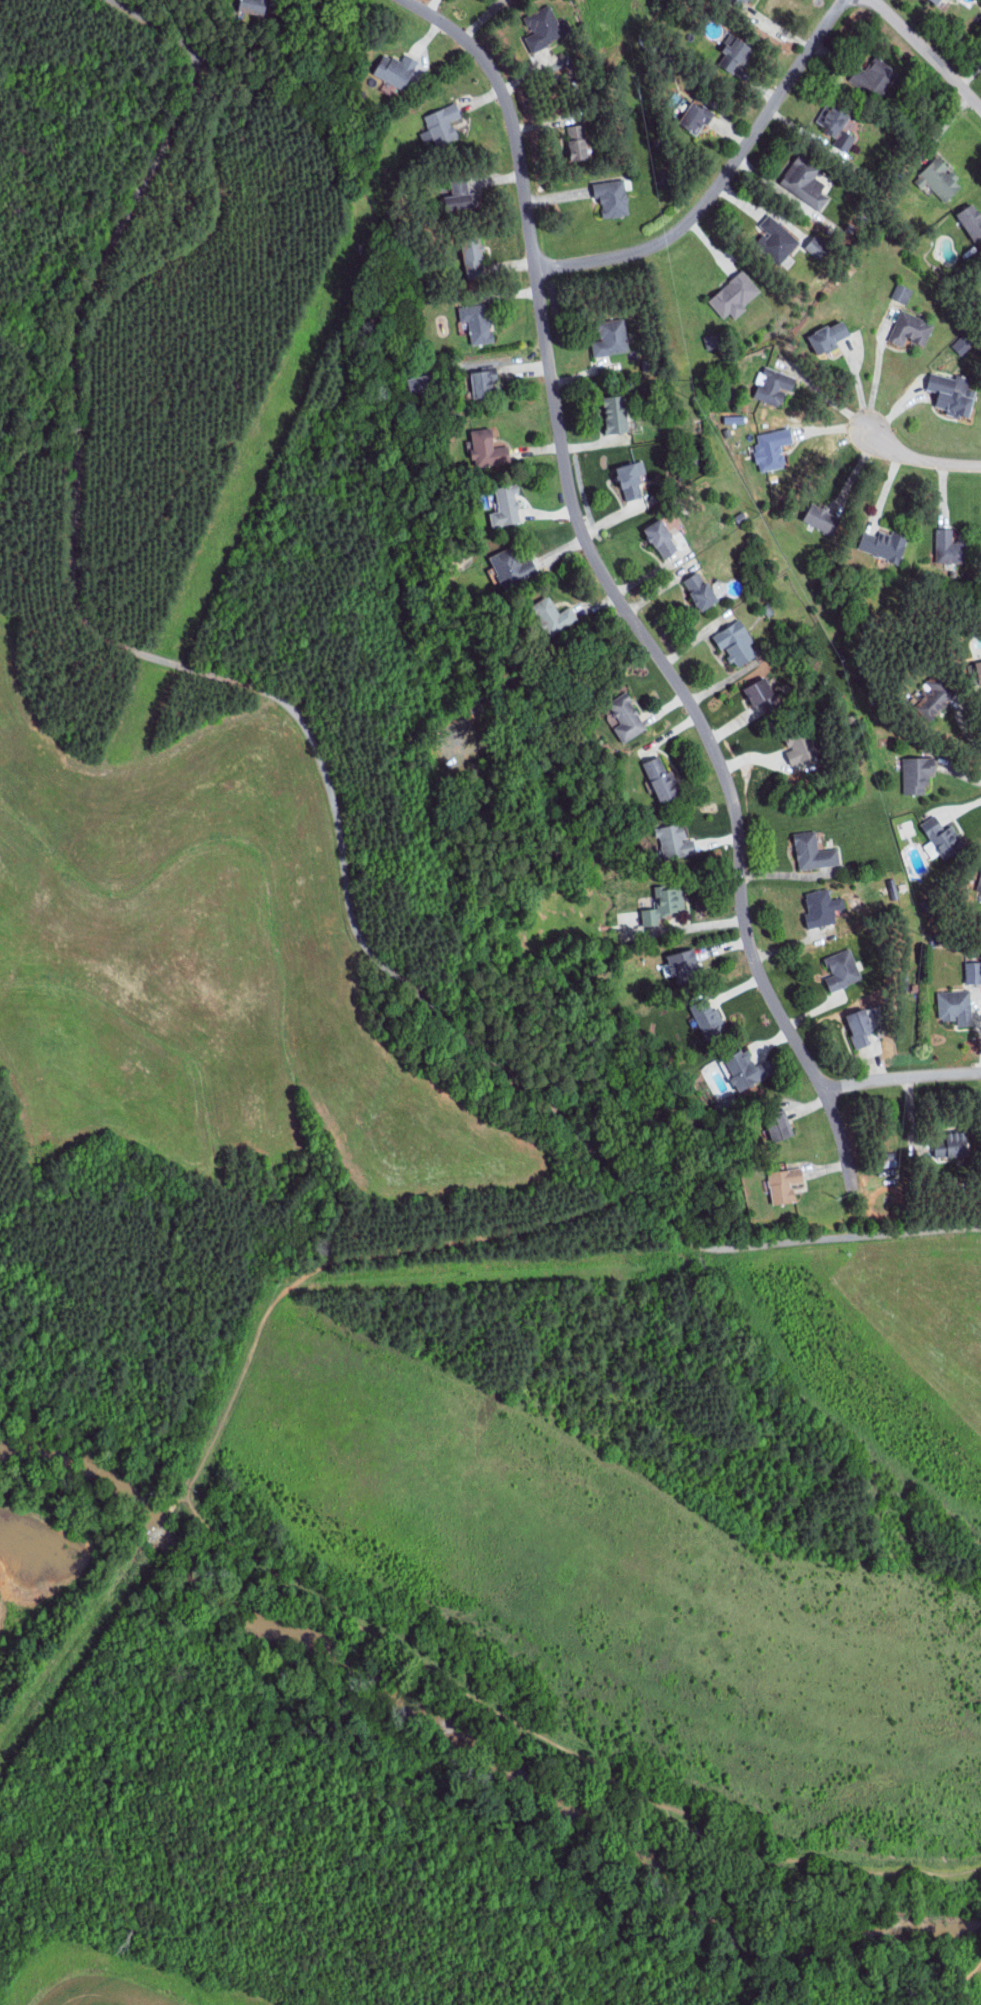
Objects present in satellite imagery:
building: (936, 1)
building: (741, 2)
building: (544, 27)
building: (734, 54)
road: (924, 57)
building: (395, 70)
building: (878, 77)
building: (695, 118)
building: (442, 124)
building: (837, 125)
building: (576, 142)
road: (722, 179)
building: (940, 180)
building: (804, 183)
building: (613, 197)
building: (971, 220)
building: (775, 239)
building: (817, 247)
building: (901, 293)
building: (734, 294)
building: (477, 323)
building: (910, 329)
building: (831, 336)
building: (611, 339)
building: (713, 341)
building: (961, 345)
building: (484, 385)
building: (772, 387)
building: (953, 395)
building: (616, 415)
building: (771, 448)
building: (487, 449)
road: (919, 458)
building: (631, 481)
building: (506, 508)
building: (823, 520)
building: (661, 539)
building: (884, 546)
building: (949, 546)
building: (510, 566)
road: (616, 591)
building: (700, 592)
building: (553, 616)
building: (736, 644)
building: (978, 672)
building: (762, 695)
building: (935, 701)
building: (627, 718)
road: (965, 727)
building: (801, 752)
building: (916, 775)
building: (662, 781)
road: (813, 804)
building: (942, 835)
building: (675, 841)
building: (813, 851)
building: (980, 884)
building: (664, 904)
building: (819, 908)
building: (685, 965)
building: (842, 970)
building: (973, 972)
building: (955, 1006)
building: (707, 1021)
building: (860, 1029)
building: (746, 1069)
road: (903, 1077)
building: (778, 1126)
building: (952, 1147)
building: (784, 1184)
road: (207, 1530)
road: (376, 1793)
road: (886, 1995)

